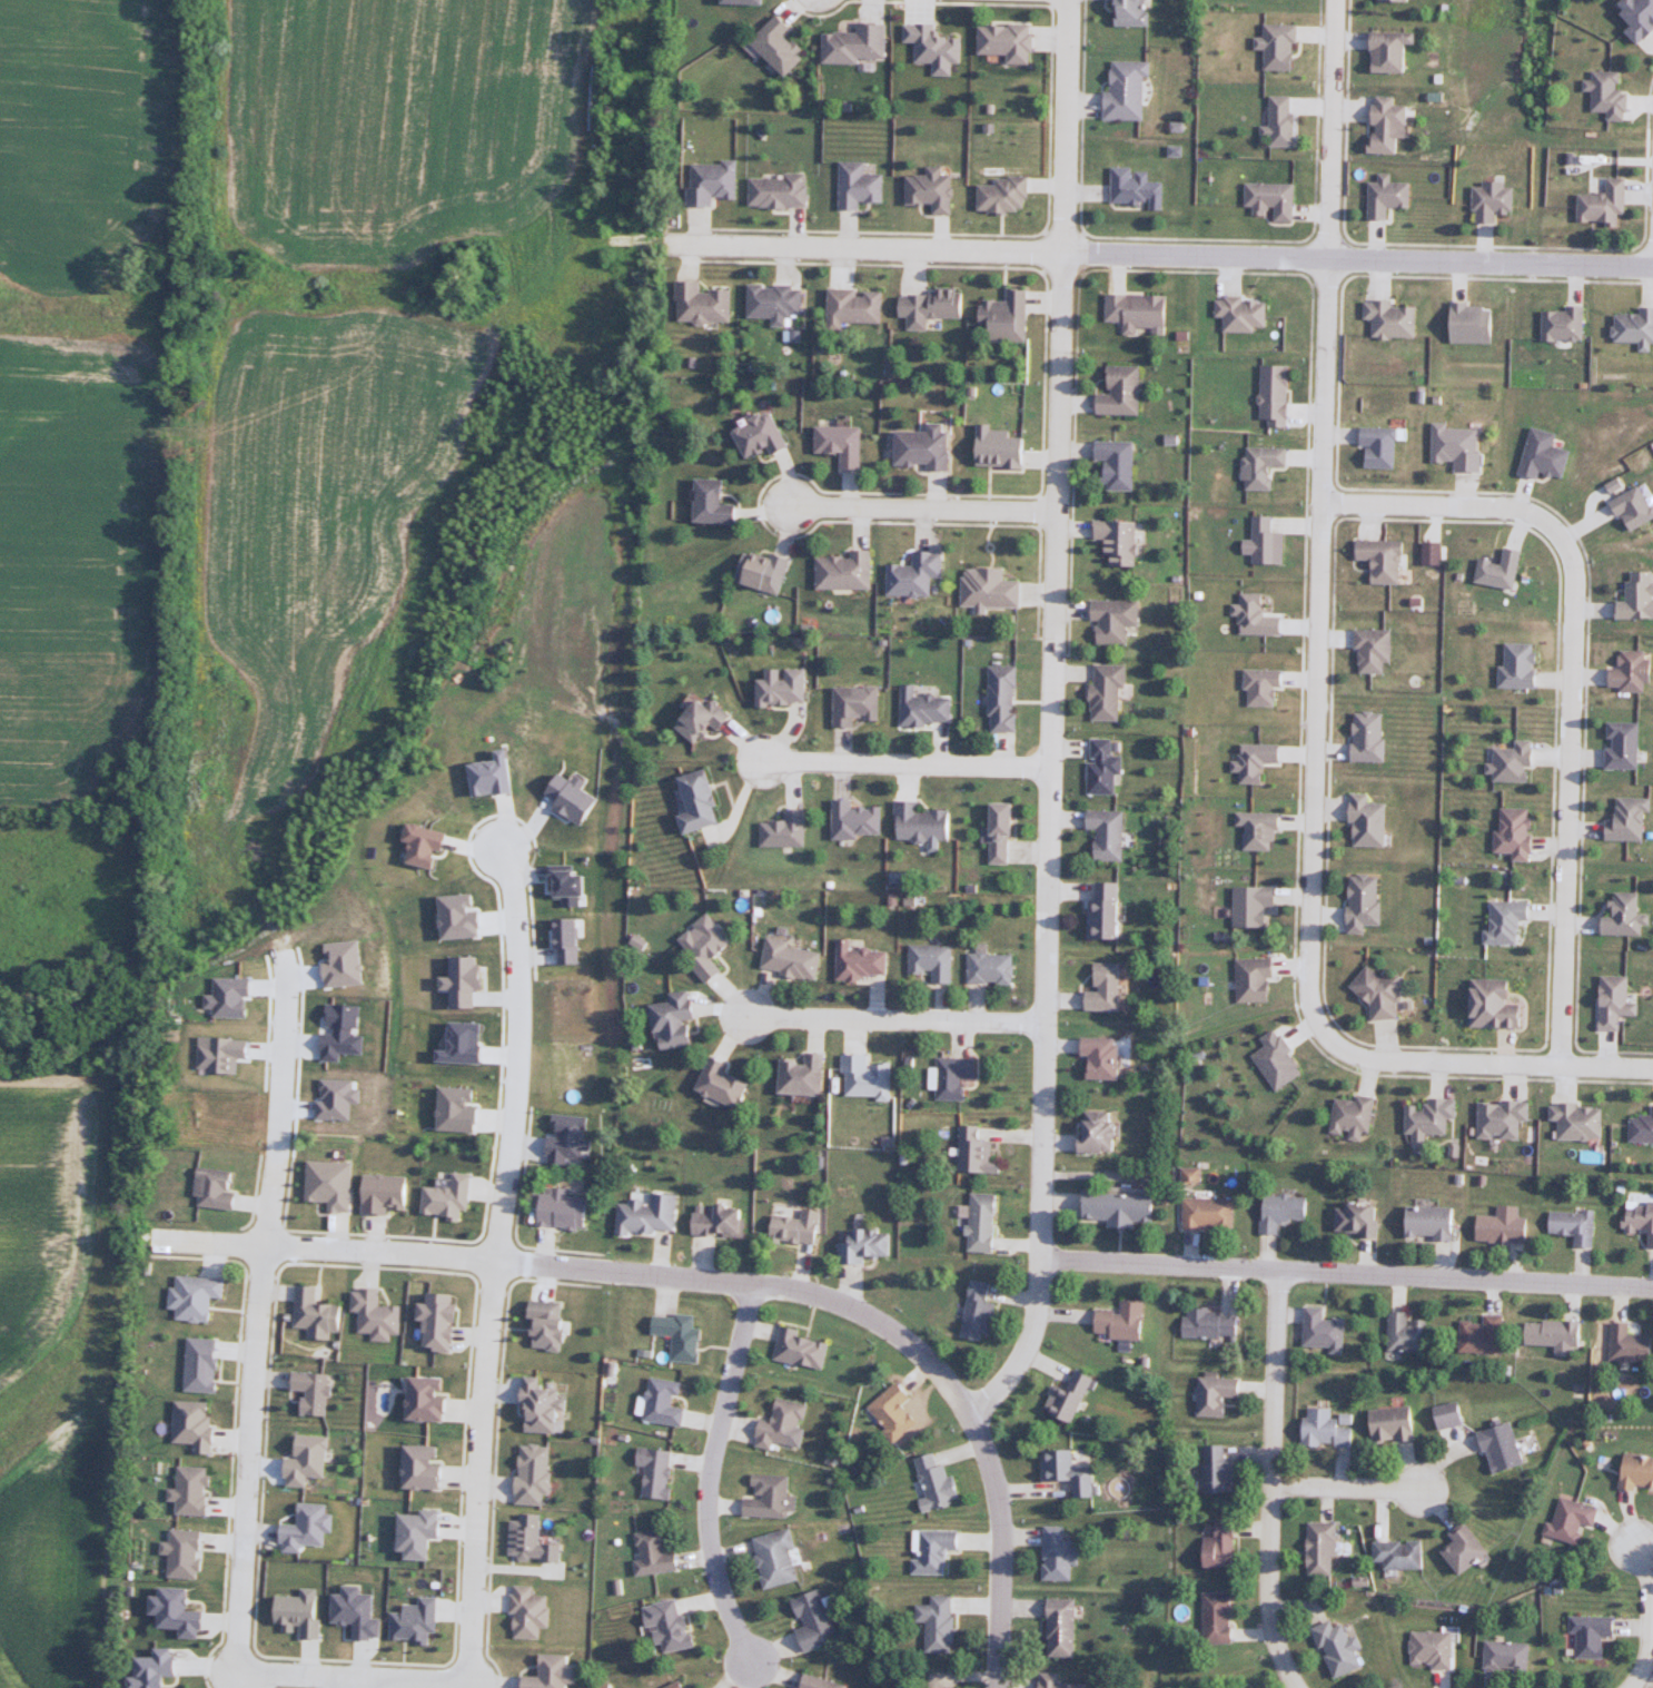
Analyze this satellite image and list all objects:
building: (1402, 0)
building: (748, 1)
building: (1130, 12)
building: (1633, 17)
building: (1008, 41)
building: (859, 43)
building: (782, 45)
building: (938, 47)
building: (1284, 47)
building: (1396, 51)
building: (1128, 90)
building: (1603, 96)
building: (1284, 121)
building: (1390, 125)
building: (715, 182)
building: (860, 186)
building: (1138, 189)
building: (779, 190)
building: (932, 190)
building: (1004, 196)
building: (1390, 197)
building: (1274, 200)
building: (1495, 200)
building: (1598, 205)
road: (1167, 256)
building: (704, 302)
building: (776, 302)
building: (855, 306)
building: (931, 306)
building: (1140, 313)
building: (1245, 314)
building: (1006, 316)
building: (1395, 318)
building: (1475, 324)
building: (1557, 324)
building: (1632, 327)
road: (1060, 383)
building: (1124, 392)
building: (1277, 395)
building: (763, 433)
building: (844, 443)
building: (1004, 446)
building: (1458, 446)
building: (923, 447)
building: (1384, 447)
building: (1538, 454)
building: (1120, 464)
building: (1266, 467)
building: (716, 501)
road: (923, 505)
building: (1627, 509)
road: (1323, 515)
building: (1116, 542)
building: (1267, 543)
building: (1385, 559)
building: (1493, 570)
building: (763, 572)
building: (845, 573)
building: (915, 574)
building: (991, 588)
building: (1632, 596)
building: (1257, 615)
building: (1118, 620)
building: (1367, 651)
building: (1512, 665)
building: (1623, 672)
road: (1571, 677)
building: (785, 687)
building: (1255, 687)
building: (1110, 692)
building: (1007, 698)
building: (859, 704)
building: (927, 704)
building: (706, 718)
building: (1362, 737)
building: (1615, 744)
building: (1248, 760)
building: (1506, 762)
road: (905, 763)
building: (1098, 767)
building: (701, 800)
building: (1622, 819)
building: (859, 820)
building: (1360, 821)
building: (922, 822)
building: (786, 829)
building: (1251, 829)
building: (1508, 831)
building: (992, 832)
building: (1101, 832)
building: (1357, 901)
building: (1246, 904)
building: (1099, 909)
building: (1619, 916)
building: (1501, 920)
building: (709, 946)
building: (794, 959)
building: (863, 961)
building: (928, 961)
building: (984, 967)
building: (1248, 979)
building: (1097, 988)
building: (1374, 994)
building: (1609, 1001)
building: (1485, 1005)
road: (893, 1018)
building: (680, 1020)
building: (1092, 1056)
building: (1271, 1060)
road: (1481, 1063)
building: (805, 1073)
building: (948, 1076)
building: (869, 1077)
building: (726, 1084)
road: (1040, 1100)
building: (1347, 1116)
building: (1425, 1117)
building: (1496, 1118)
building: (1573, 1121)
building: (1640, 1127)
building: (1089, 1132)
building: (971, 1152)
building: (217, 1187)
building: (387, 1193)
building: (452, 1197)
building: (1111, 1207)
building: (565, 1208)
building: (1277, 1211)
building: (1202, 1213)
building: (650, 1214)
building: (1637, 1218)
building: (1350, 1220)
building: (721, 1221)
building: (976, 1221)
building: (1422, 1222)
building: (799, 1225)
building: (1568, 1225)
building: (1495, 1228)
building: (868, 1244)
road: (495, 1264)
road: (1345, 1275)
road: (725, 1280)
building: (197, 1295)
building: (972, 1311)
building: (318, 1313)
road: (256, 1314)
building: (377, 1314)
building: (1115, 1320)
building: (1206, 1323)
building: (551, 1324)
building: (1318, 1330)
building: (1404, 1332)
building: (682, 1334)
building: (1477, 1334)
building: (1548, 1334)
building: (1625, 1344)
building: (804, 1349)
building: (205, 1364)
building: (316, 1391)
building: (1211, 1392)
building: (1063, 1399)
building: (667, 1402)
building: (543, 1406)
building: (897, 1411)
building: (1443, 1415)
building: (196, 1424)
building: (1388, 1424)
building: (784, 1425)
building: (1325, 1428)
building: (1494, 1448)
building: (309, 1460)
building: (1215, 1470)
building: (661, 1471)
building: (1063, 1471)
building: (1633, 1472)
road: (710, 1473)
building: (537, 1474)
building: (931, 1483)
road: (1273, 1483)
road: (1348, 1488)
building: (192, 1490)
building: (772, 1495)
building: (1565, 1520)
building: (309, 1527)
building: (424, 1533)
building: (533, 1538)
building: (1214, 1544)
building: (1316, 1549)
building: (1456, 1549)
building: (936, 1550)
building: (188, 1553)
building: (656, 1553)
building: (1392, 1553)
building: (1053, 1554)
building: (780, 1559)
building: (304, 1612)
building: (533, 1612)
road: (1646, 1616)
building: (1212, 1618)
building: (418, 1620)
building: (816, 1621)
building: (673, 1623)
building: (941, 1623)
building: (1066, 1627)
building: (1586, 1633)
building: (1332, 1648)
building: (1425, 1648)
building: (1502, 1656)
building: (156, 1668)
building: (560, 1672)
road: (350, 1680)
building: (1070, 1681)
building: (824, 1682)
road: (349, 1684)
building: (681, 1686)

